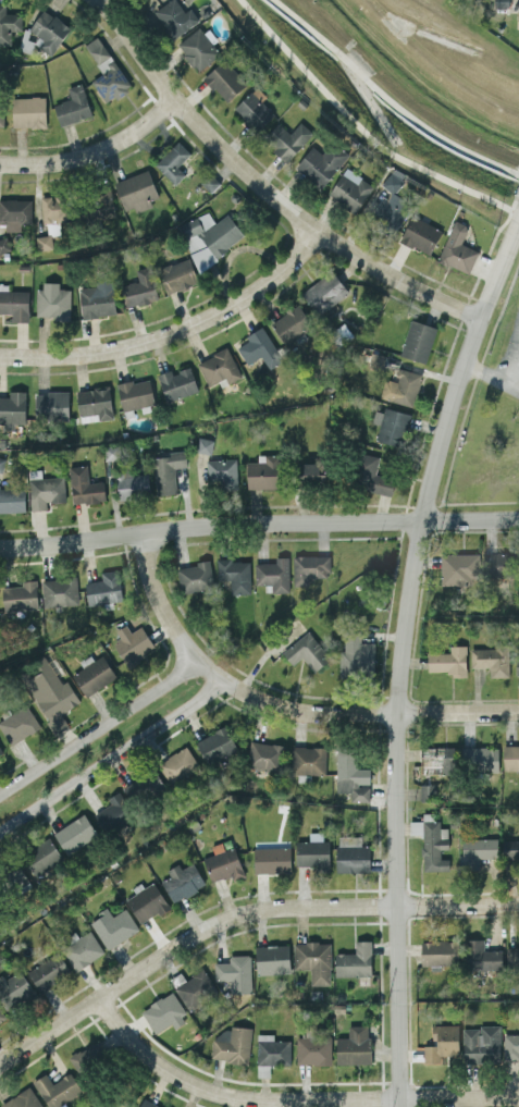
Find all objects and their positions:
building: (175, 17)
building: (518, 20)
building: (8, 24)
building: (44, 34)
building: (199, 47)
building: (107, 72)
building: (224, 79)
road: (387, 99)
building: (73, 106)
building: (255, 109)
building: (28, 111)
building: (1, 113)
road: (362, 130)
building: (287, 139)
road: (95, 151)
building: (173, 161)
building: (321, 162)
road: (264, 187)
building: (350, 189)
building: (136, 190)
building: (391, 200)
building: (98, 202)
building: (54, 207)
building: (15, 212)
building: (420, 234)
building: (209, 236)
building: (44, 242)
building: (3, 244)
building: (457, 248)
building: (177, 274)
building: (139, 288)
building: (324, 292)
building: (98, 298)
building: (52, 299)
building: (14, 303)
building: (291, 323)
road: (176, 334)
building: (418, 340)
building: (259, 348)
road: (514, 360)
building: (219, 367)
road: (491, 378)
building: (177, 383)
building: (401, 386)
building: (135, 393)
building: (94, 403)
building: (51, 405)
building: (12, 408)
building: (393, 426)
building: (205, 445)
building: (1, 463)
building: (168, 470)
building: (223, 471)
building: (263, 471)
building: (312, 475)
building: (371, 476)
building: (133, 483)
building: (85, 485)
building: (45, 489)
building: (12, 499)
road: (258, 524)
building: (497, 564)
building: (310, 567)
building: (459, 568)
building: (235, 574)
building: (273, 574)
building: (195, 577)
building: (102, 589)
building: (59, 591)
building: (20, 595)
building: (132, 643)
building: (306, 651)
road: (399, 654)
building: (356, 657)
building: (491, 659)
building: (448, 660)
building: (517, 664)
building: (92, 673)
building: (50, 692)
road: (281, 705)
building: (17, 724)
road: (98, 725)
building: (215, 743)
building: (0, 752)
road: (110, 753)
building: (263, 755)
building: (436, 757)
building: (479, 757)
building: (510, 757)
building: (307, 759)
building: (177, 765)
building: (350, 775)
building: (145, 787)
building: (427, 790)
building: (113, 812)
building: (415, 826)
building: (75, 833)
building: (433, 842)
building: (510, 848)
building: (312, 850)
building: (477, 850)
building: (351, 853)
building: (40, 856)
building: (271, 859)
building: (222, 862)
building: (11, 878)
building: (182, 881)
building: (146, 900)
road: (238, 912)
building: (112, 925)
building: (81, 948)
building: (437, 951)
building: (481, 956)
building: (514, 956)
building: (272, 958)
building: (313, 959)
building: (354, 959)
building: (48, 970)
building: (234, 972)
building: (13, 988)
building: (195, 988)
building: (163, 1012)
building: (1, 1016)
building: (445, 1038)
building: (232, 1043)
building: (480, 1043)
building: (353, 1045)
building: (510, 1045)
building: (312, 1047)
building: (272, 1049)
building: (87, 1056)
building: (57, 1087)
building: (22, 1099)
road: (287, 1099)
building: (147, 1104)

